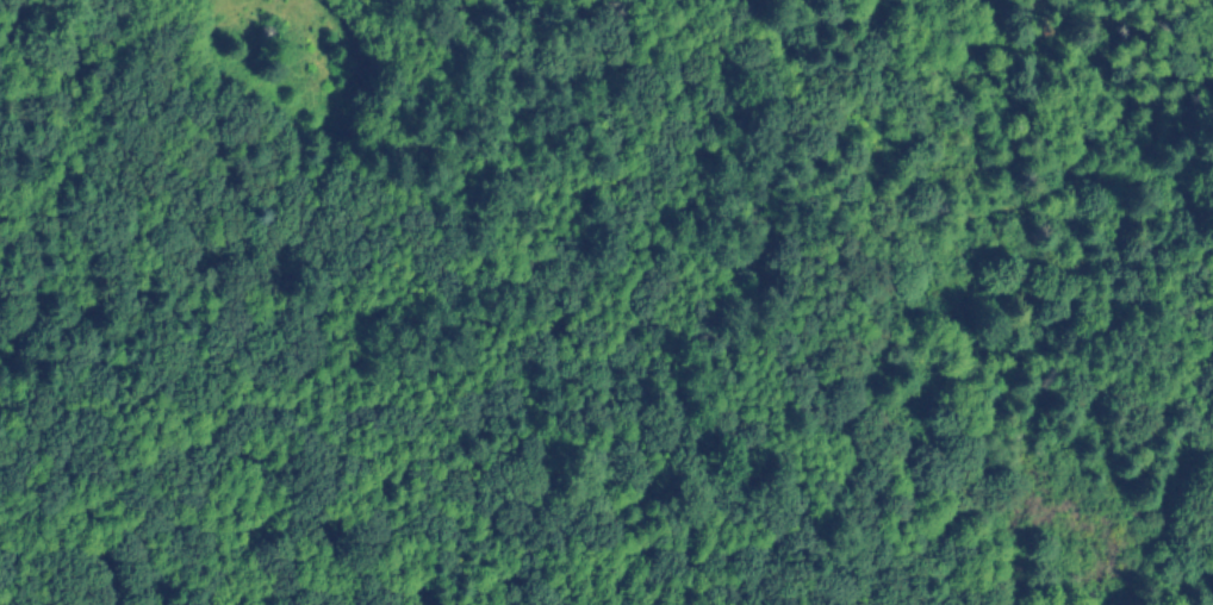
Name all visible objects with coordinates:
road: (1091, 160)

